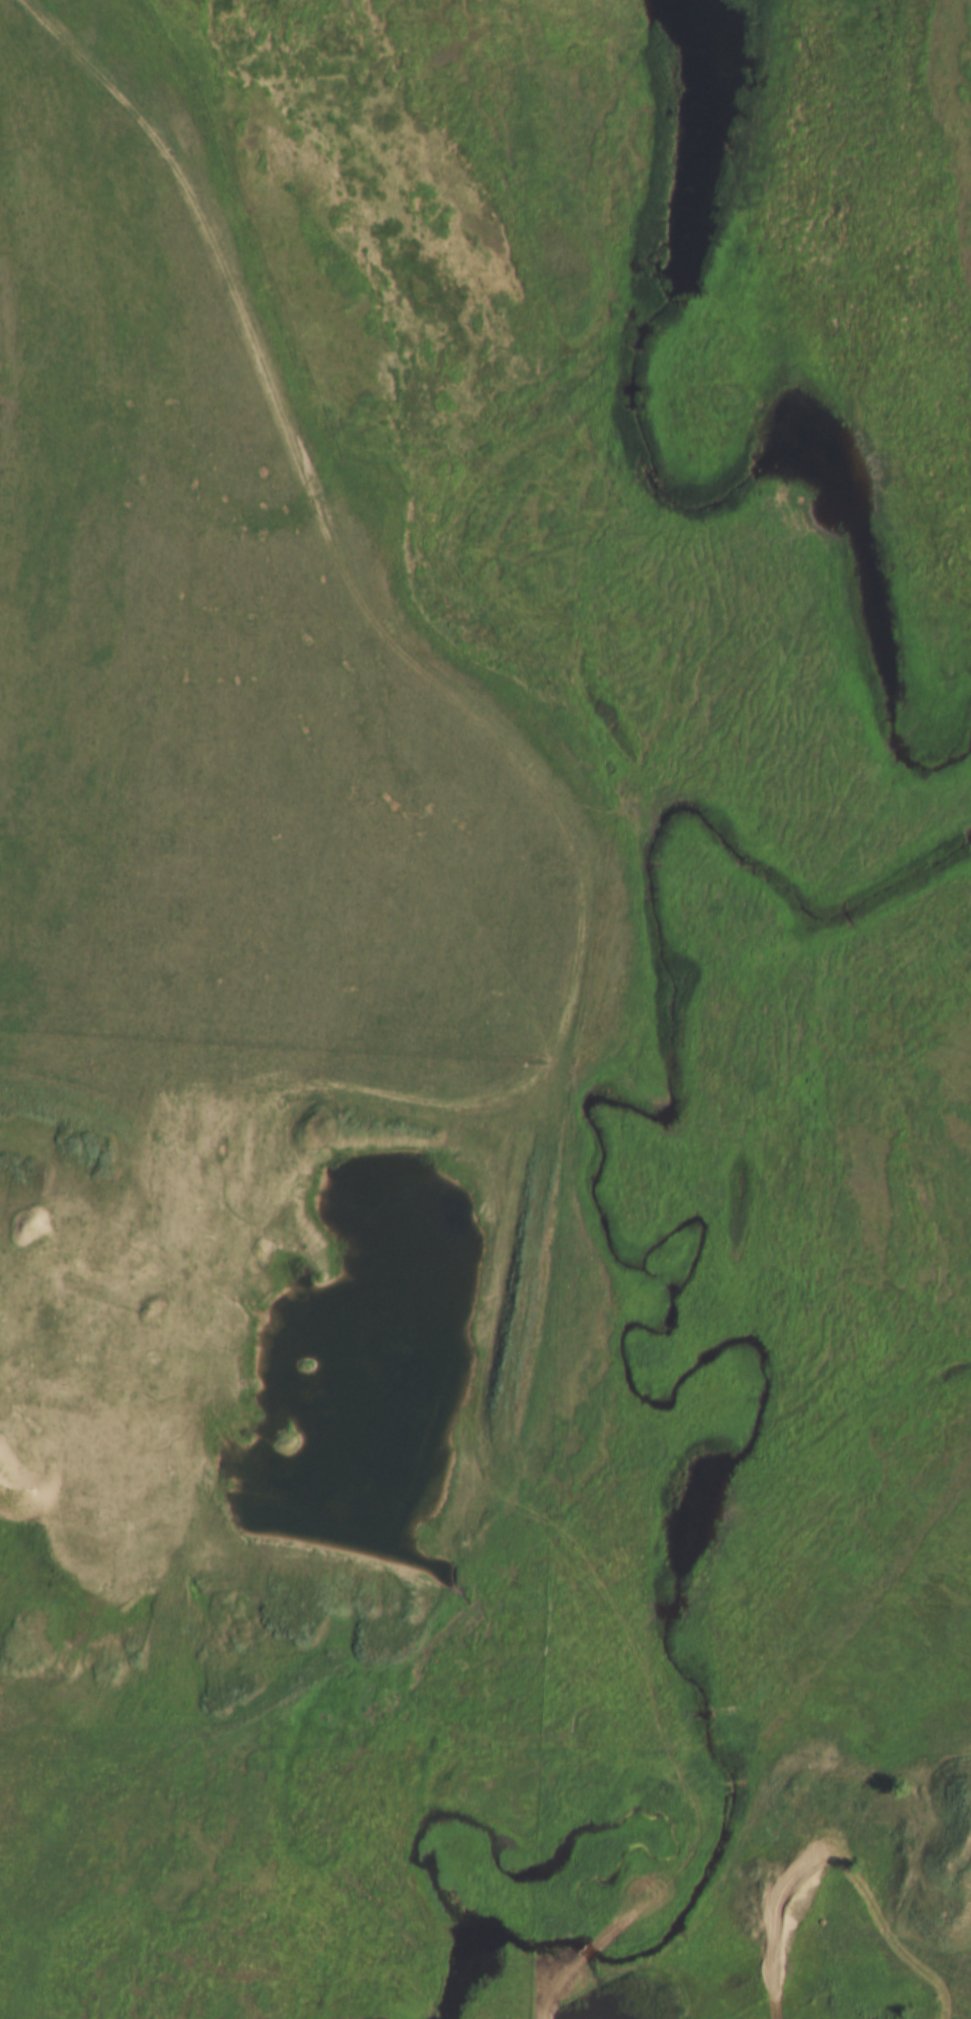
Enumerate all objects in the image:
quarry: (272, 1392)

